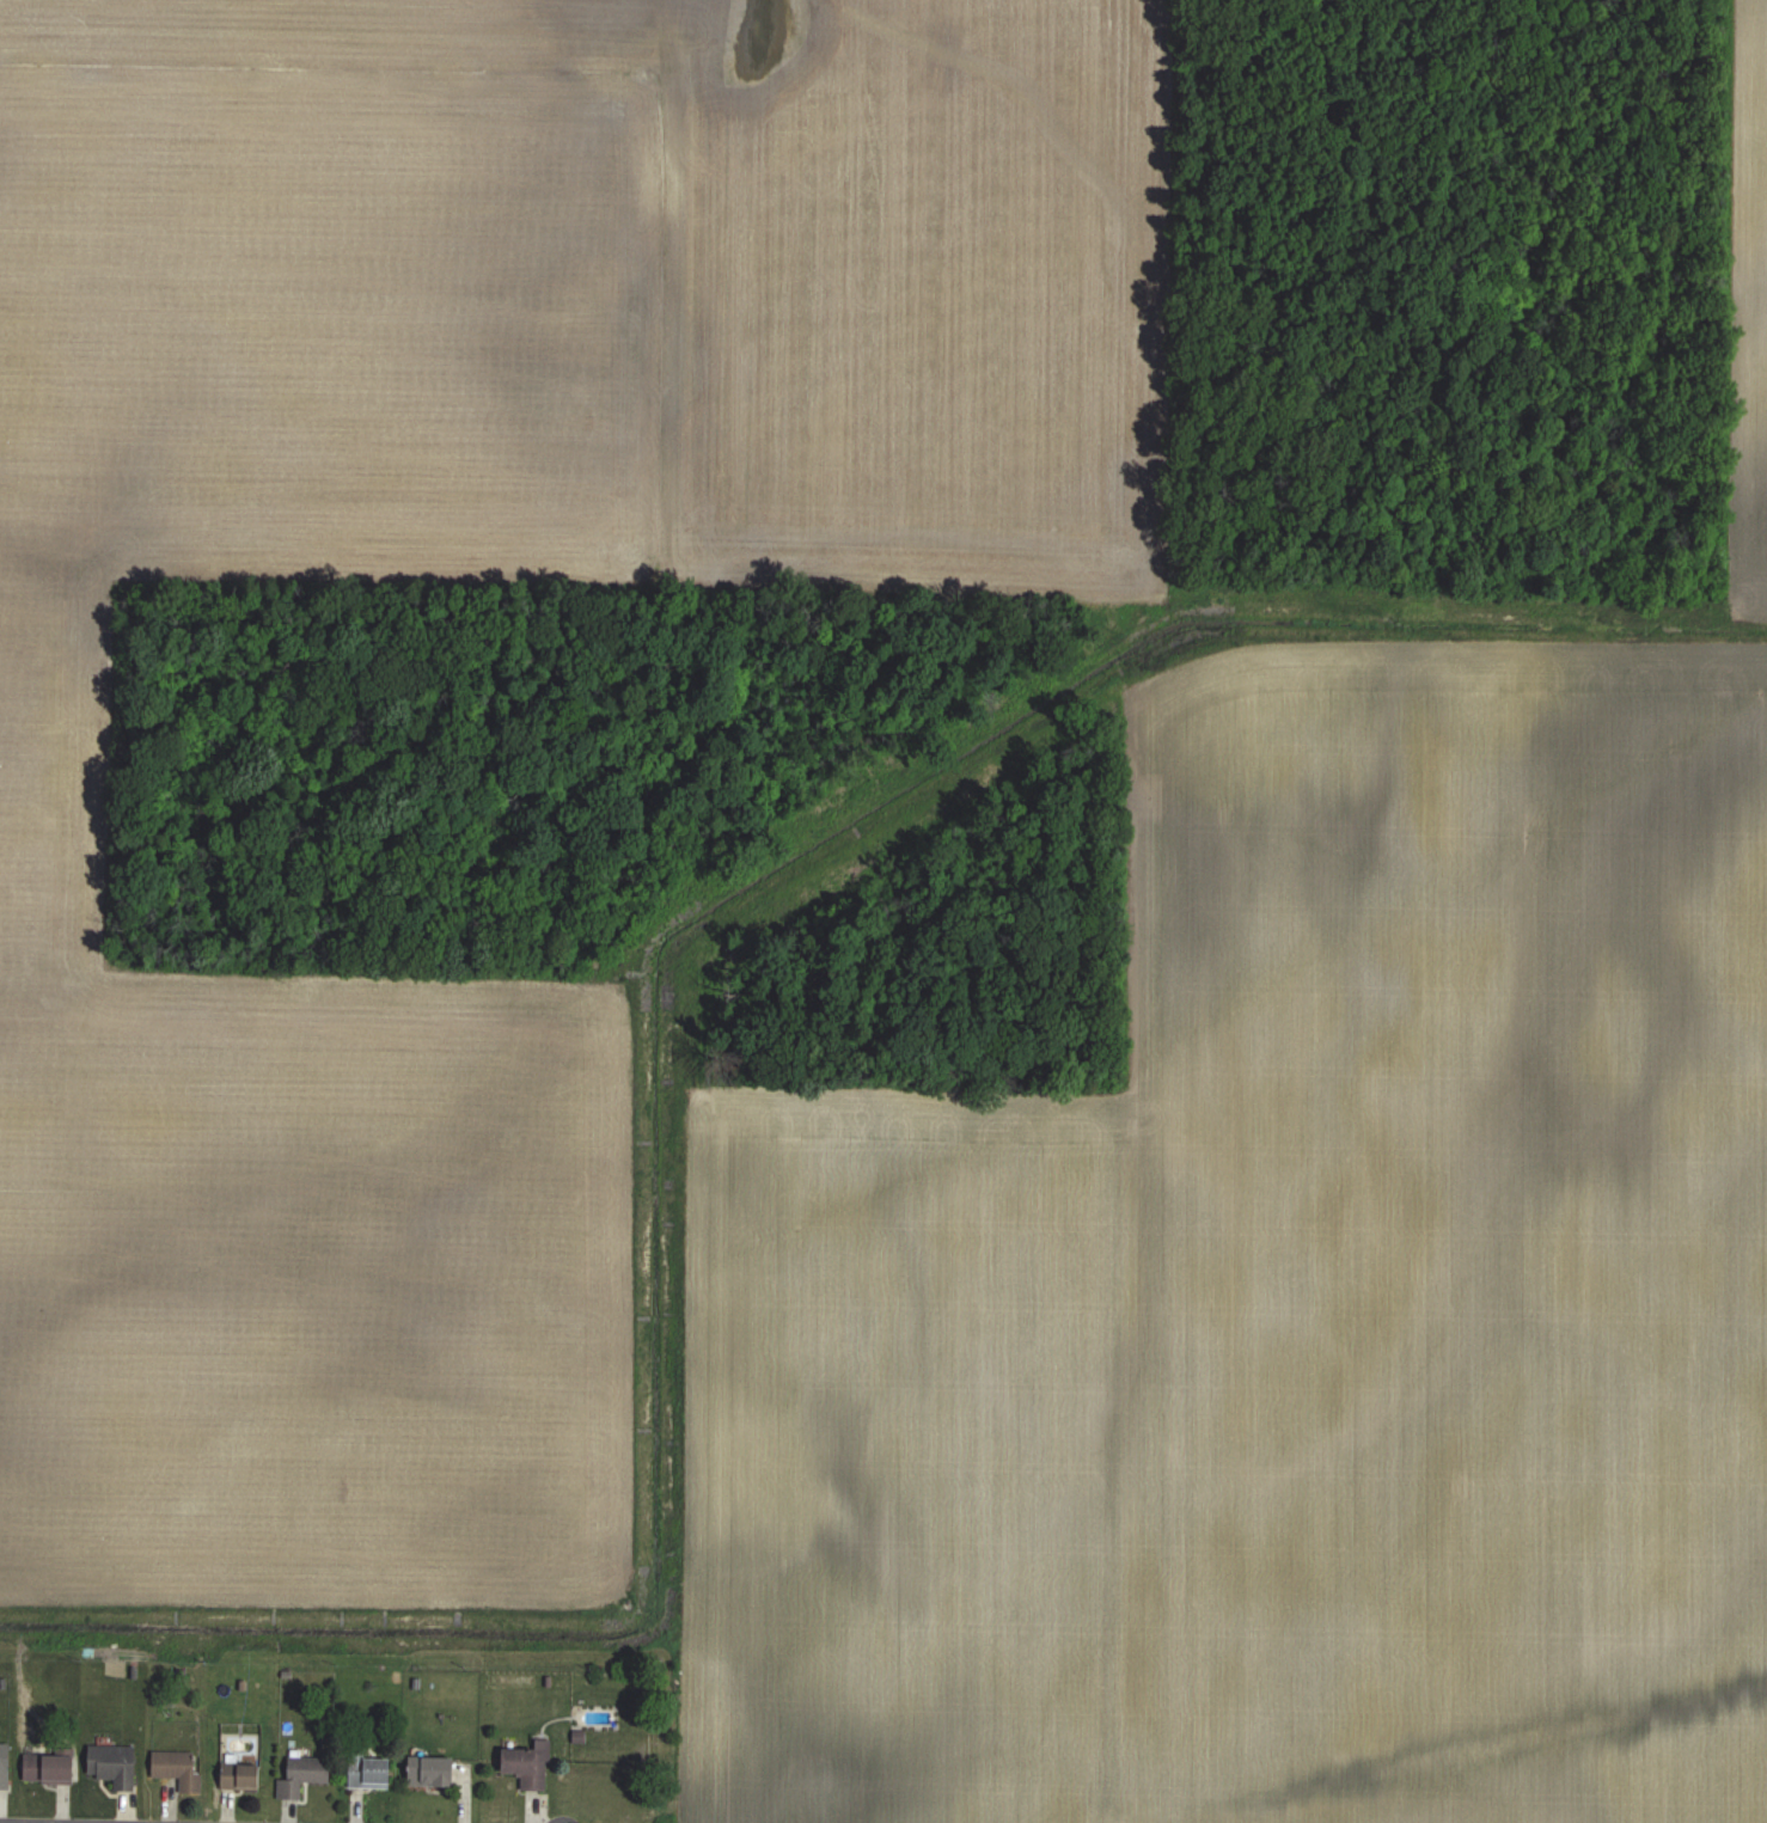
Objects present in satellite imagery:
building: (6, 1764)
building: (116, 1766)
building: (532, 1766)
building: (53, 1768)
building: (181, 1768)
building: (373, 1772)
building: (434, 1772)
building: (306, 1775)
building: (245, 1776)

